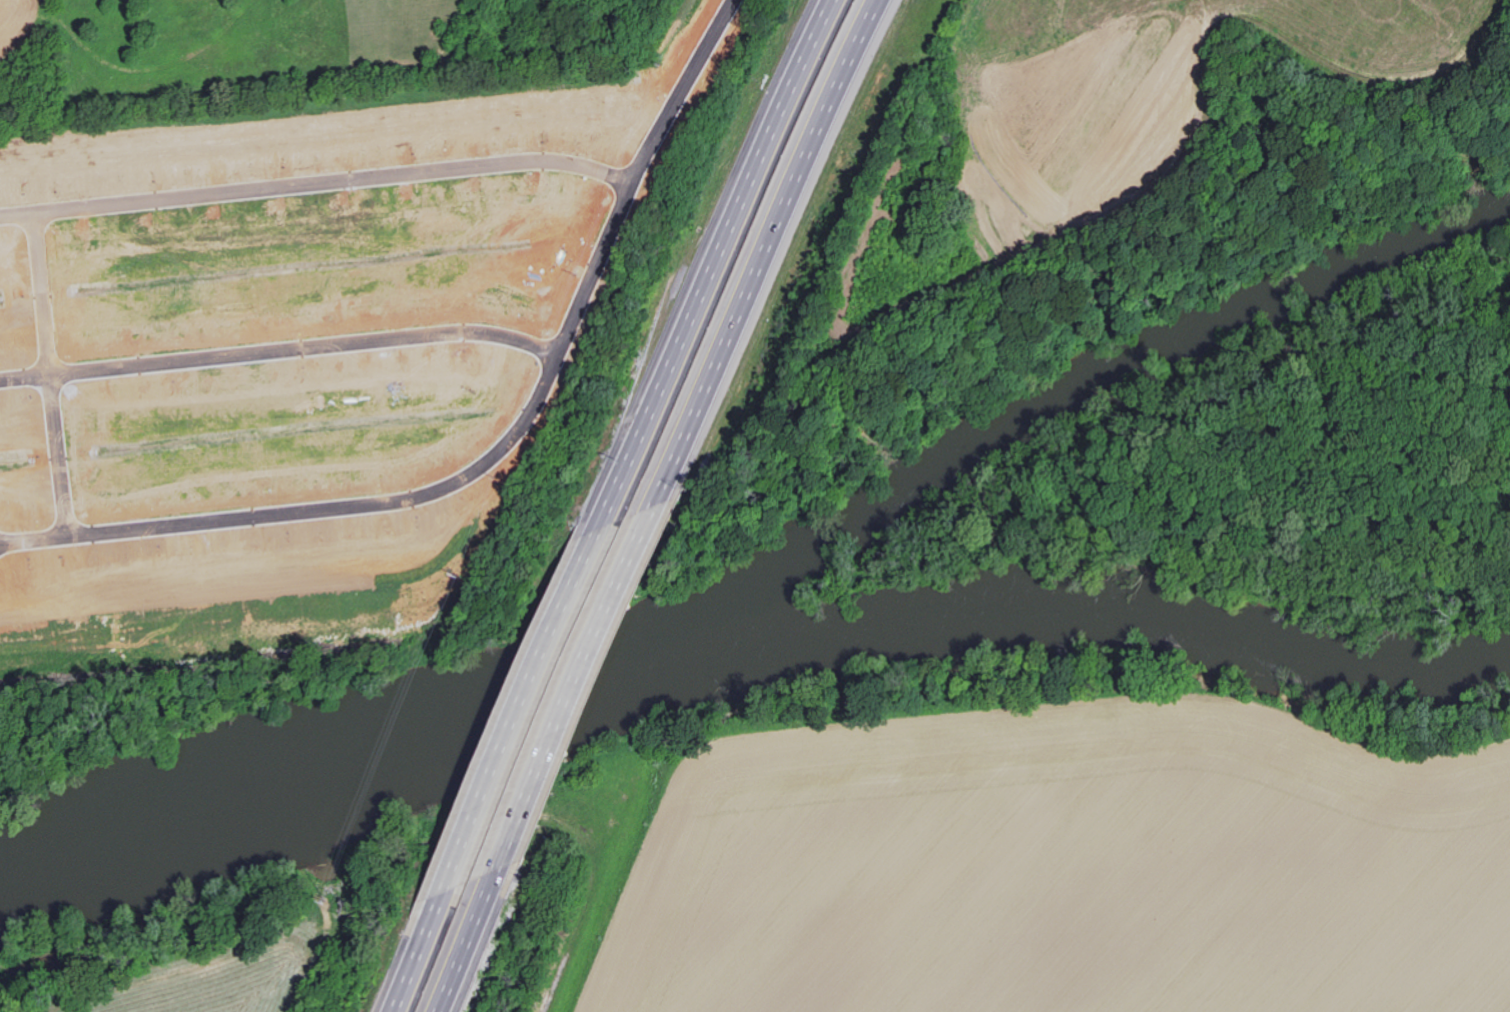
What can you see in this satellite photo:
road: (314, 180)
road: (769, 255)
road: (717, 261)
road: (41, 291)
road: (279, 351)
road: (496, 452)
road: (57, 454)
river: (764, 571)
road: (560, 694)
road: (516, 708)
road: (458, 946)
road: (411, 953)

